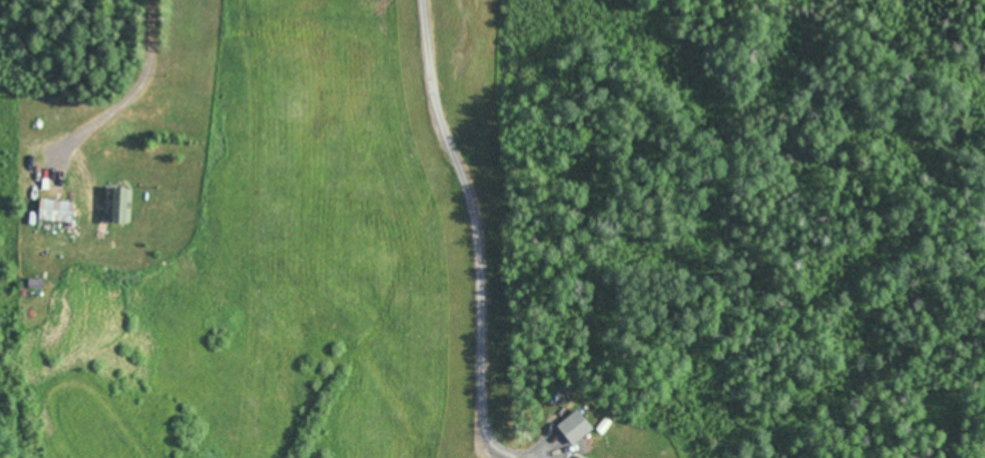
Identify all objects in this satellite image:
building: (118, 205)
building: (56, 211)
building: (36, 283)
building: (583, 457)

